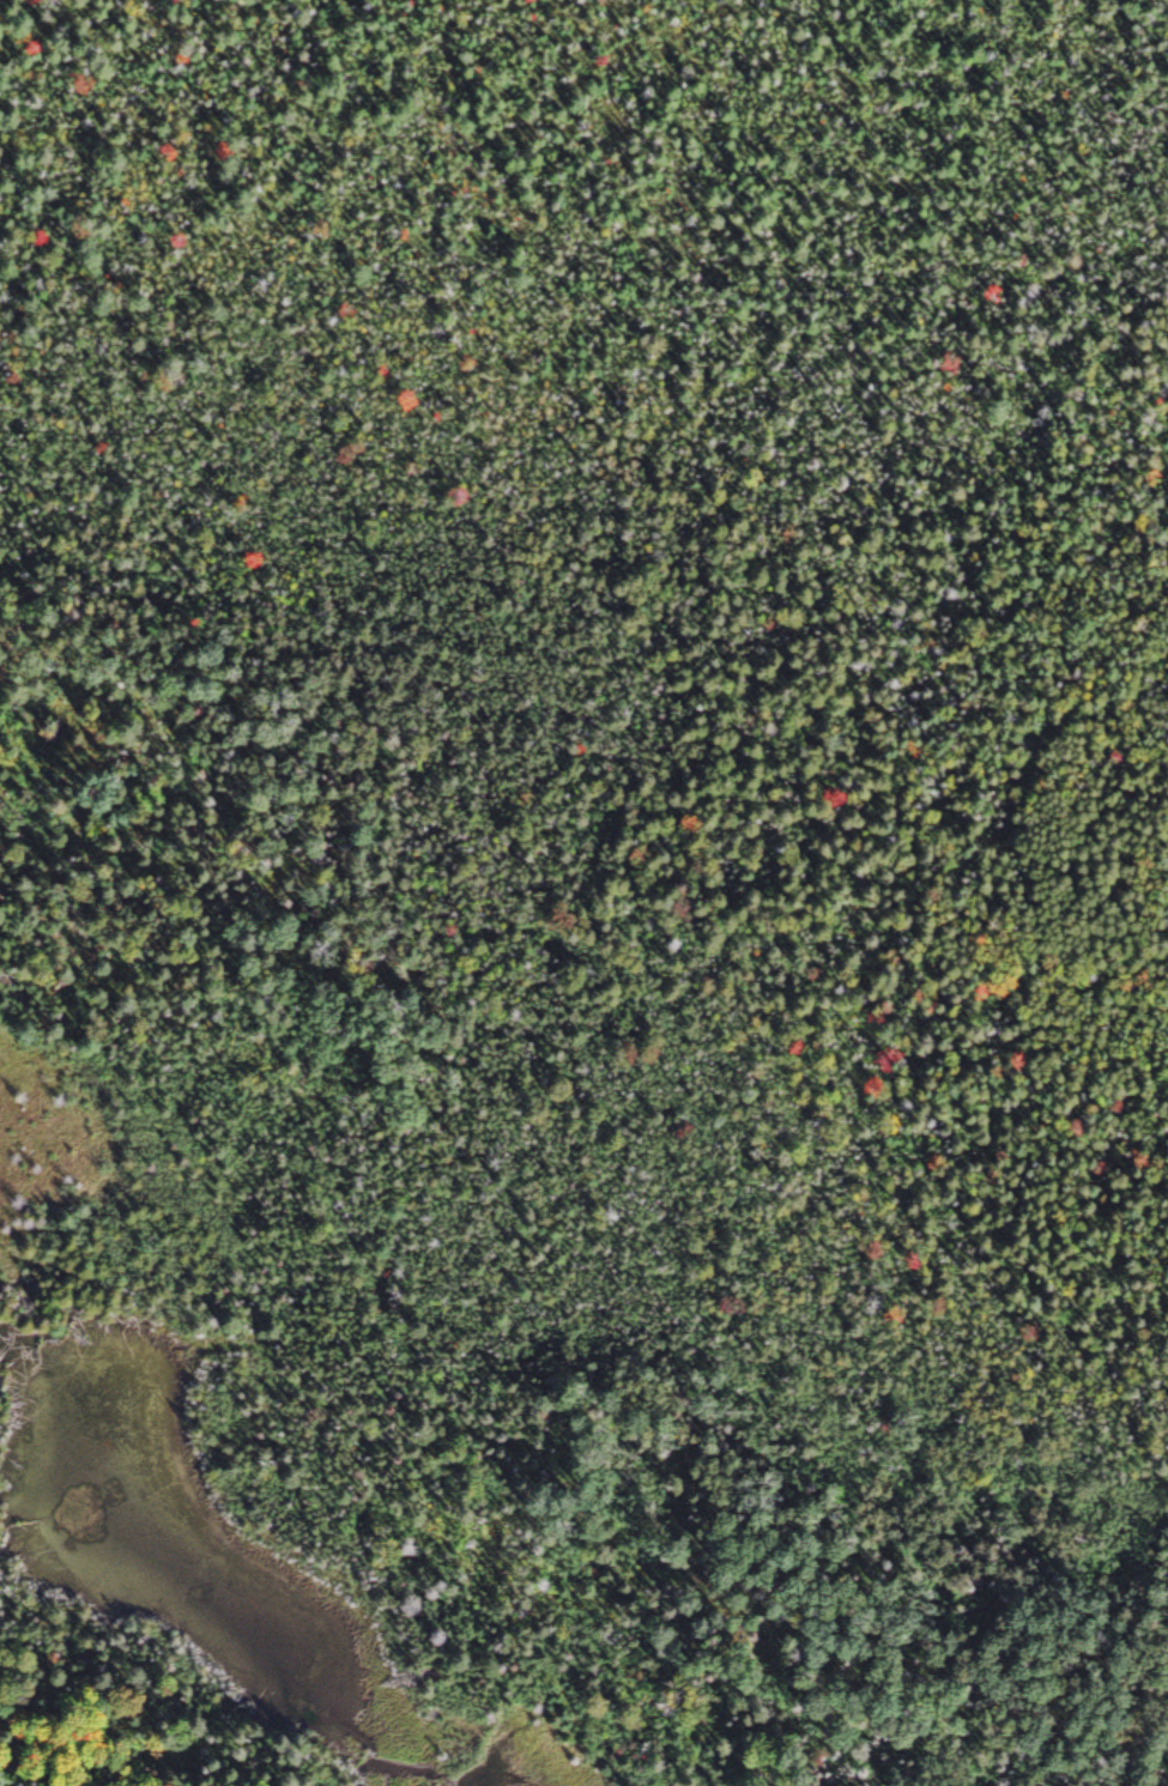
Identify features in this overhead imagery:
road: (125, 1749)

